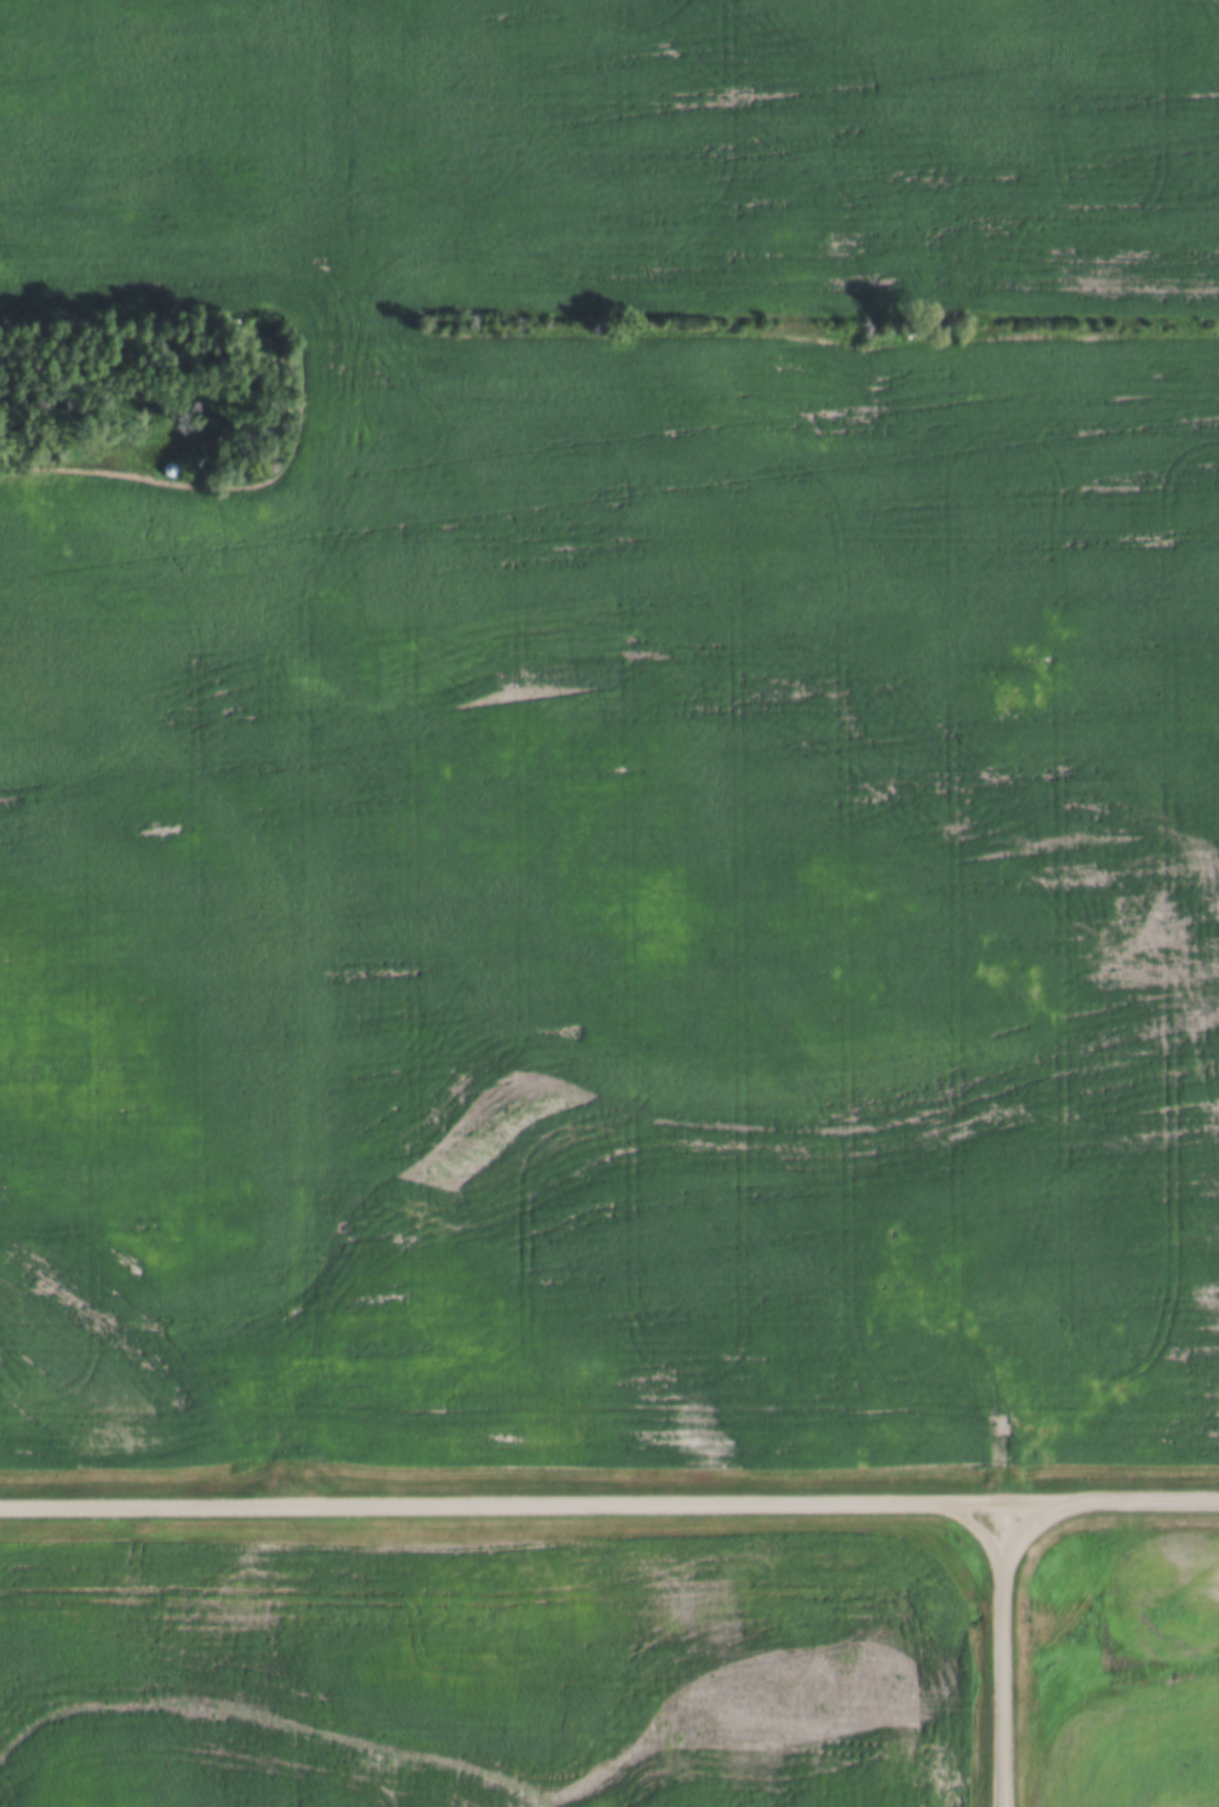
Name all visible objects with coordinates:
road: (1112, 1502)
road: (503, 1505)
road: (980, 1529)
road: (1003, 1654)

